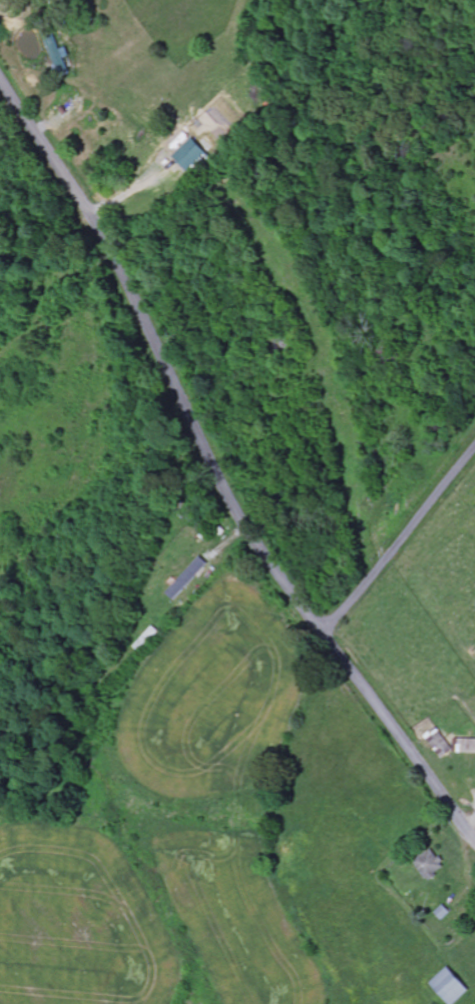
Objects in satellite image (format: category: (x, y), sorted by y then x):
building: (61, 55)
building: (192, 156)
road: (213, 471)
road: (399, 541)
building: (189, 578)
building: (431, 865)
building: (445, 913)
building: (453, 986)

